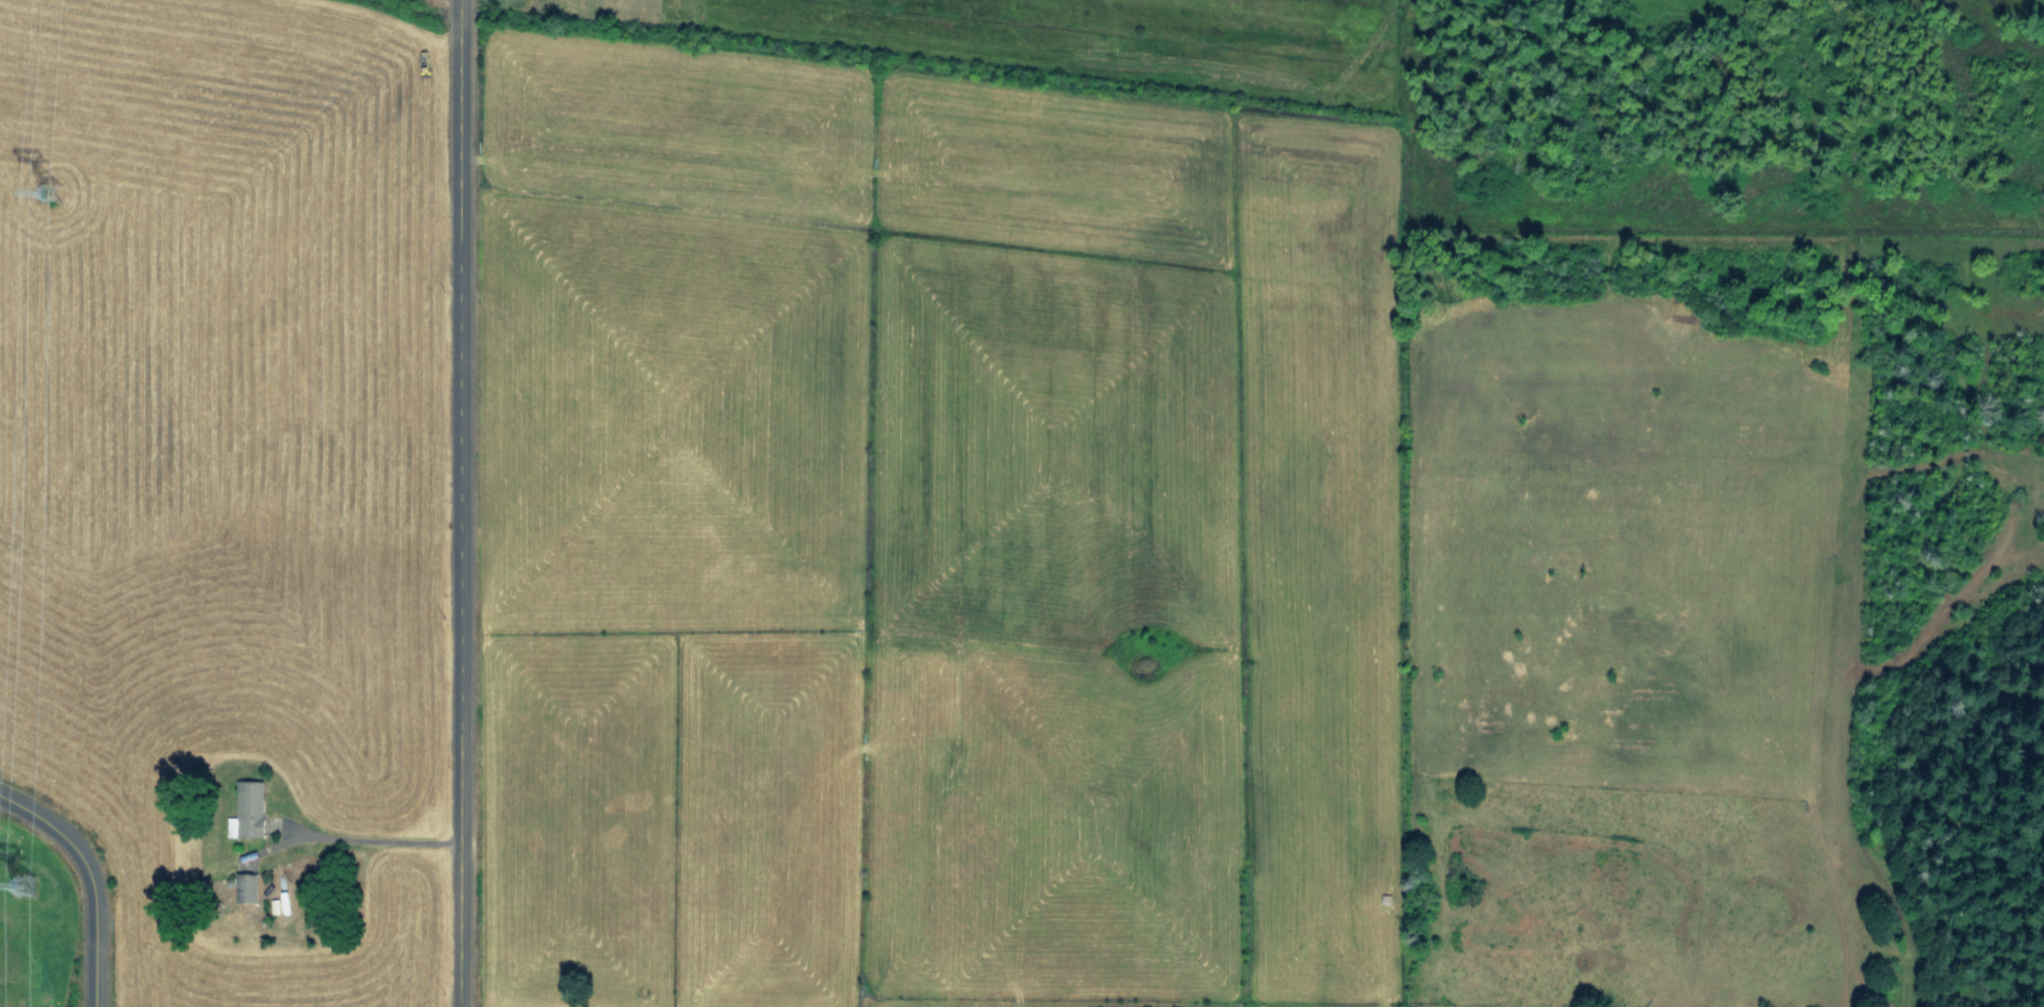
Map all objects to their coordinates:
crop: (2014, 5)
power tower: (54, 208)
crop: (212, 502)
road: (452, 503)
crop: (1052, 555)
building: (247, 808)
road: (365, 838)
road: (91, 878)
building: (246, 886)
power tower: (29, 900)

